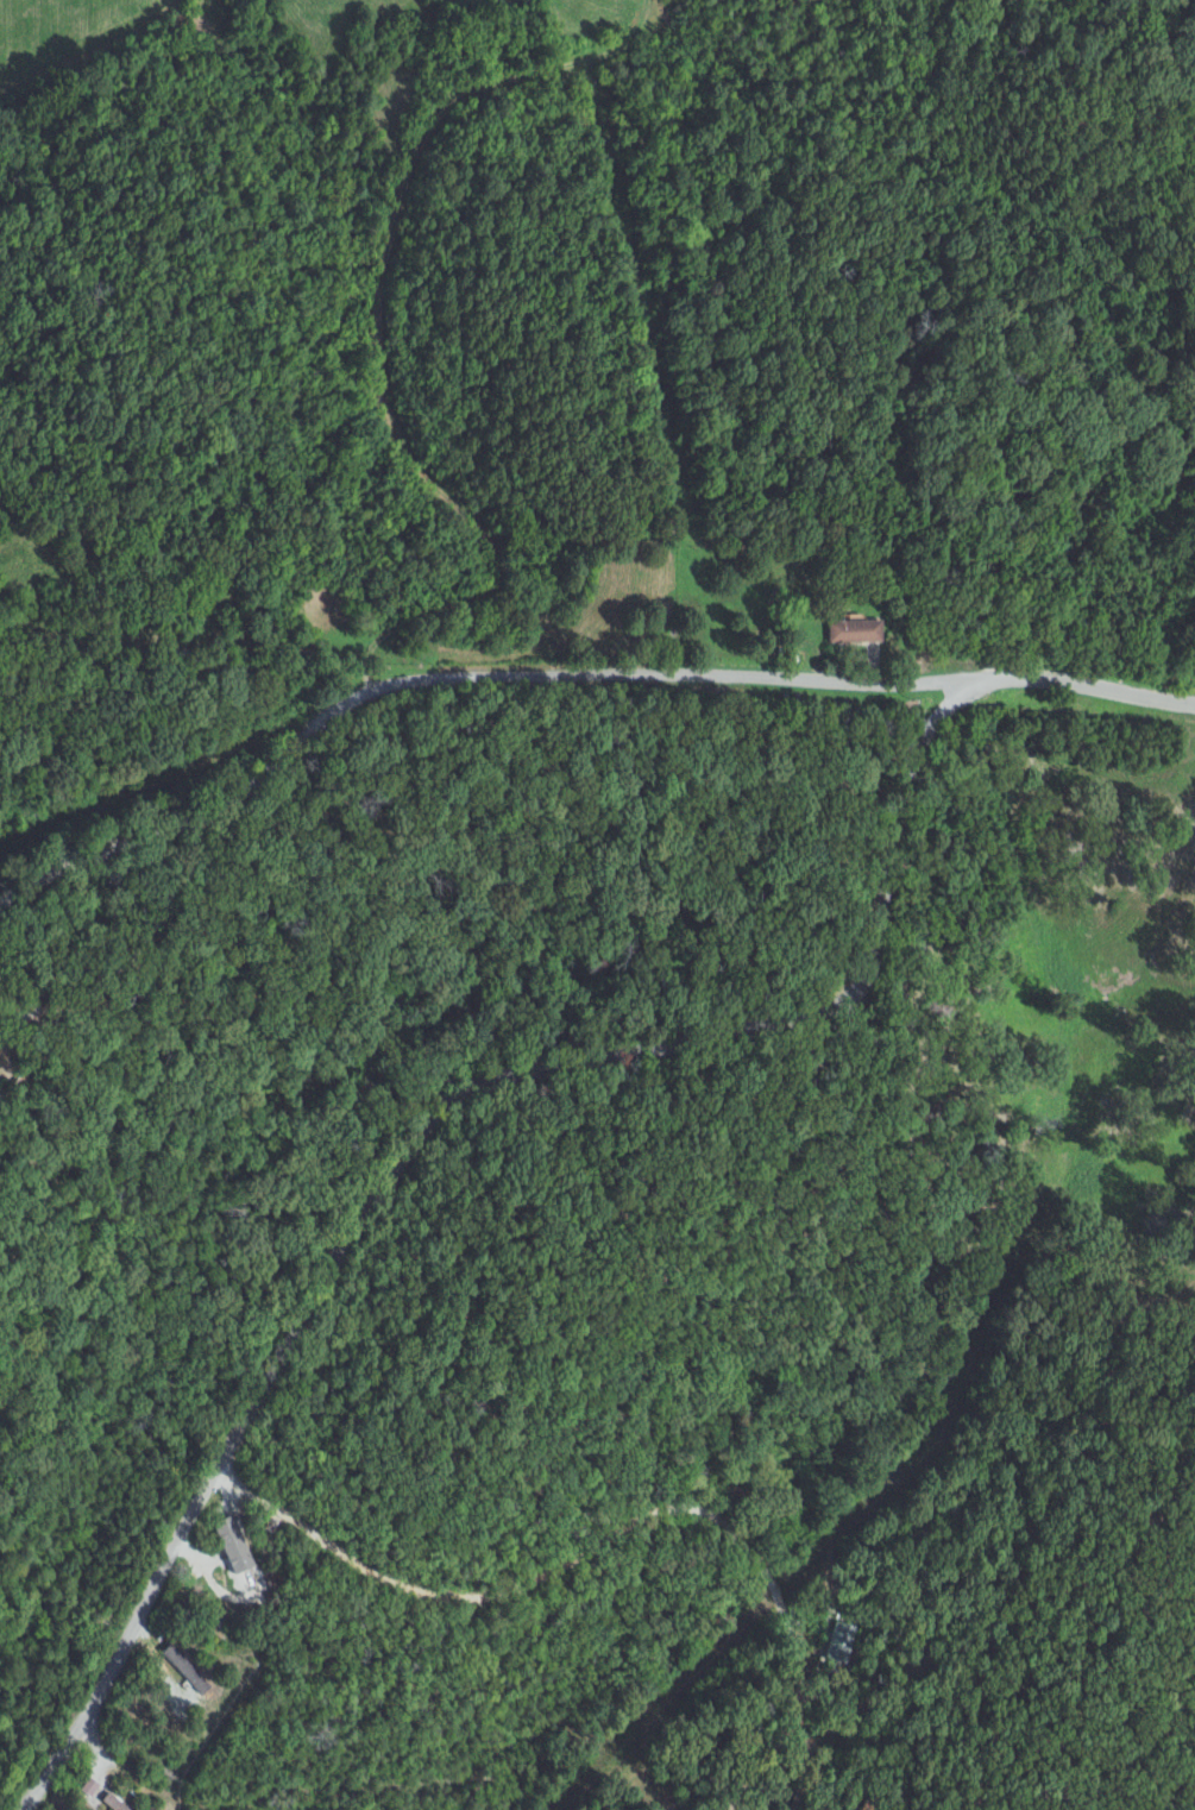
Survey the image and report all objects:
road: (371, 323)
building: (861, 628)
road: (568, 674)
road: (416, 1121)
road: (8, 1483)
road: (605, 1536)
building: (233, 1554)
building: (837, 1641)
building: (184, 1668)
building: (88, 1786)
building: (112, 1803)

